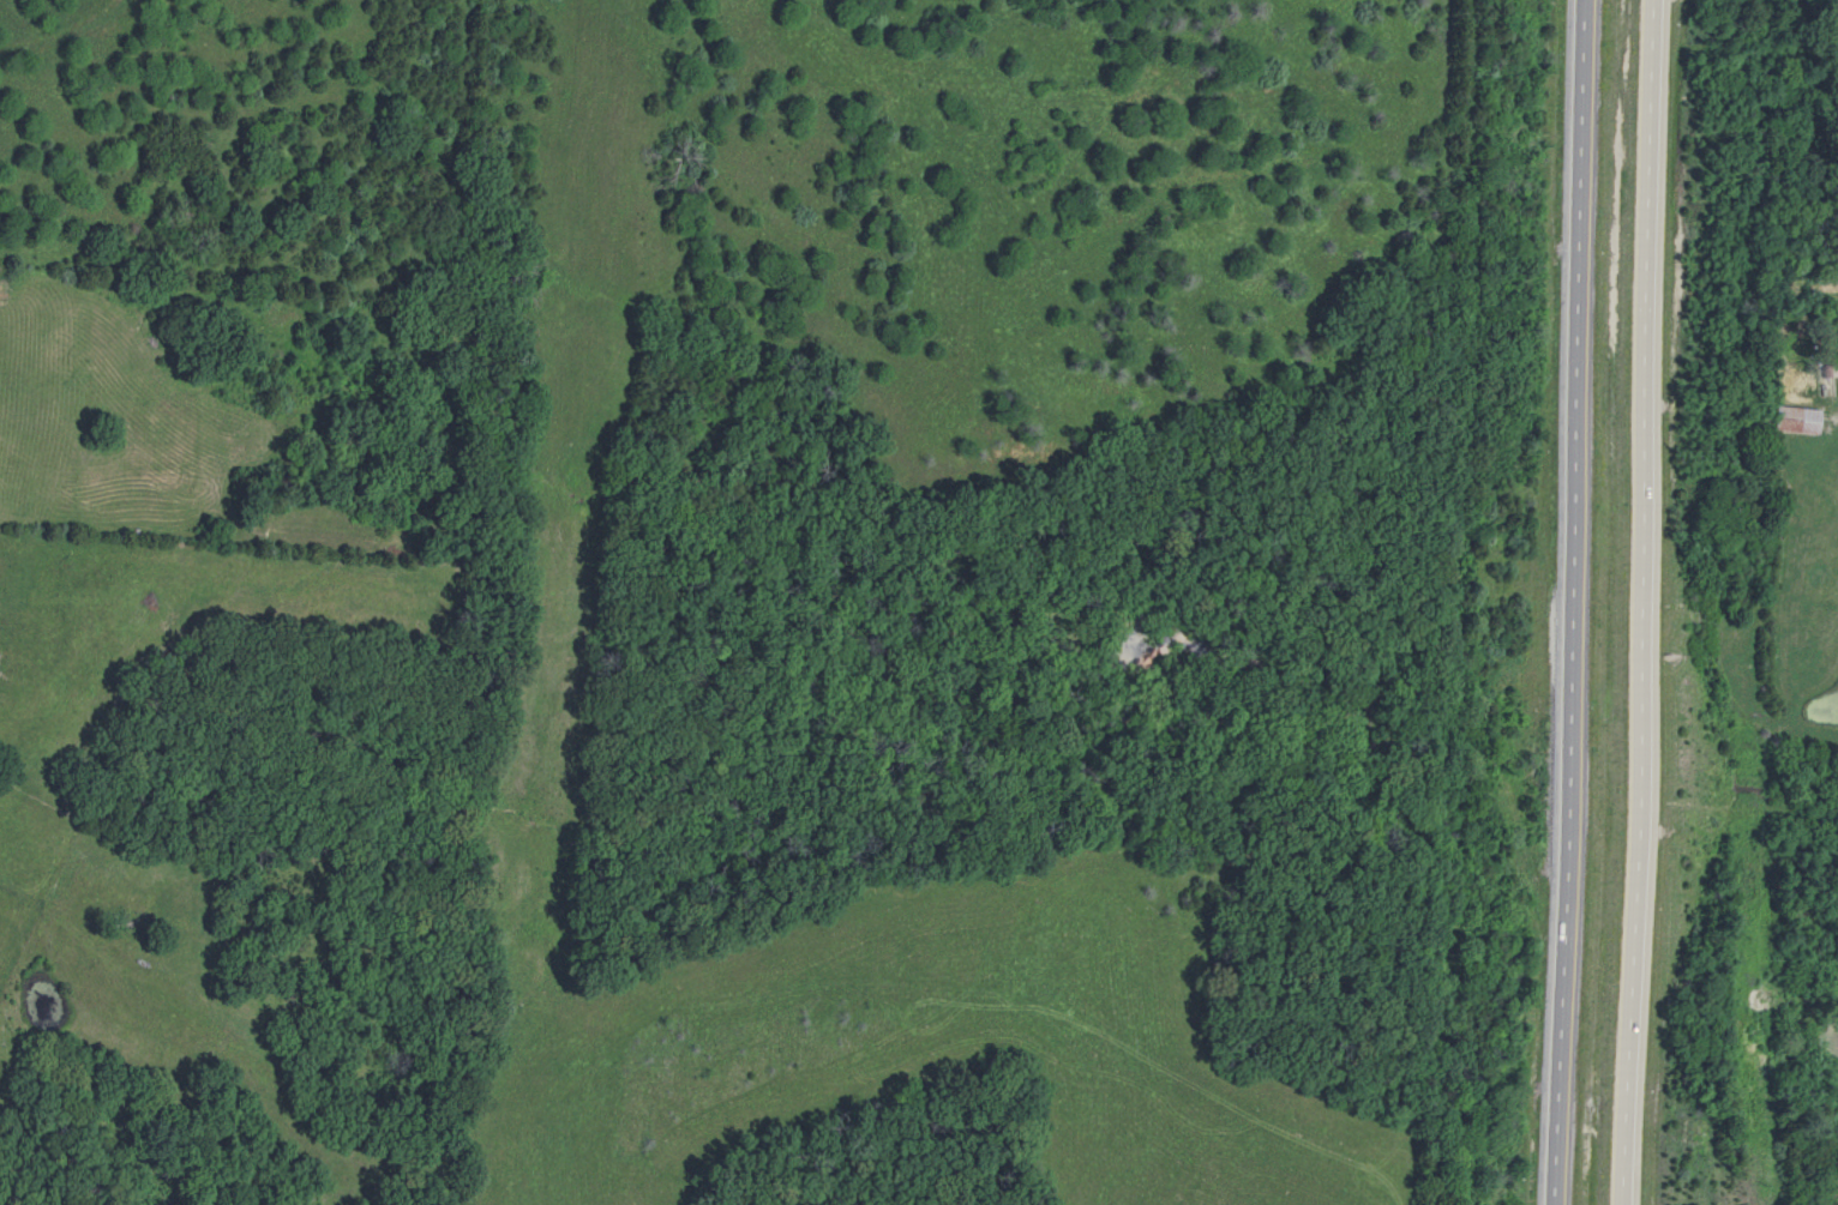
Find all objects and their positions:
road: (1837, 409)
building: (1790, 421)
road: (1578, 602)
road: (1651, 602)

